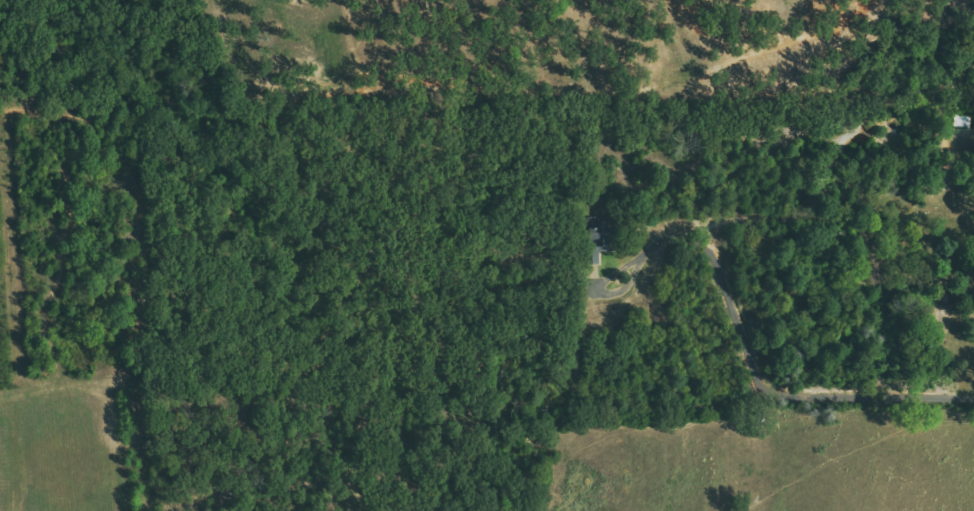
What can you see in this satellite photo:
building: (601, 239)
road: (758, 379)

